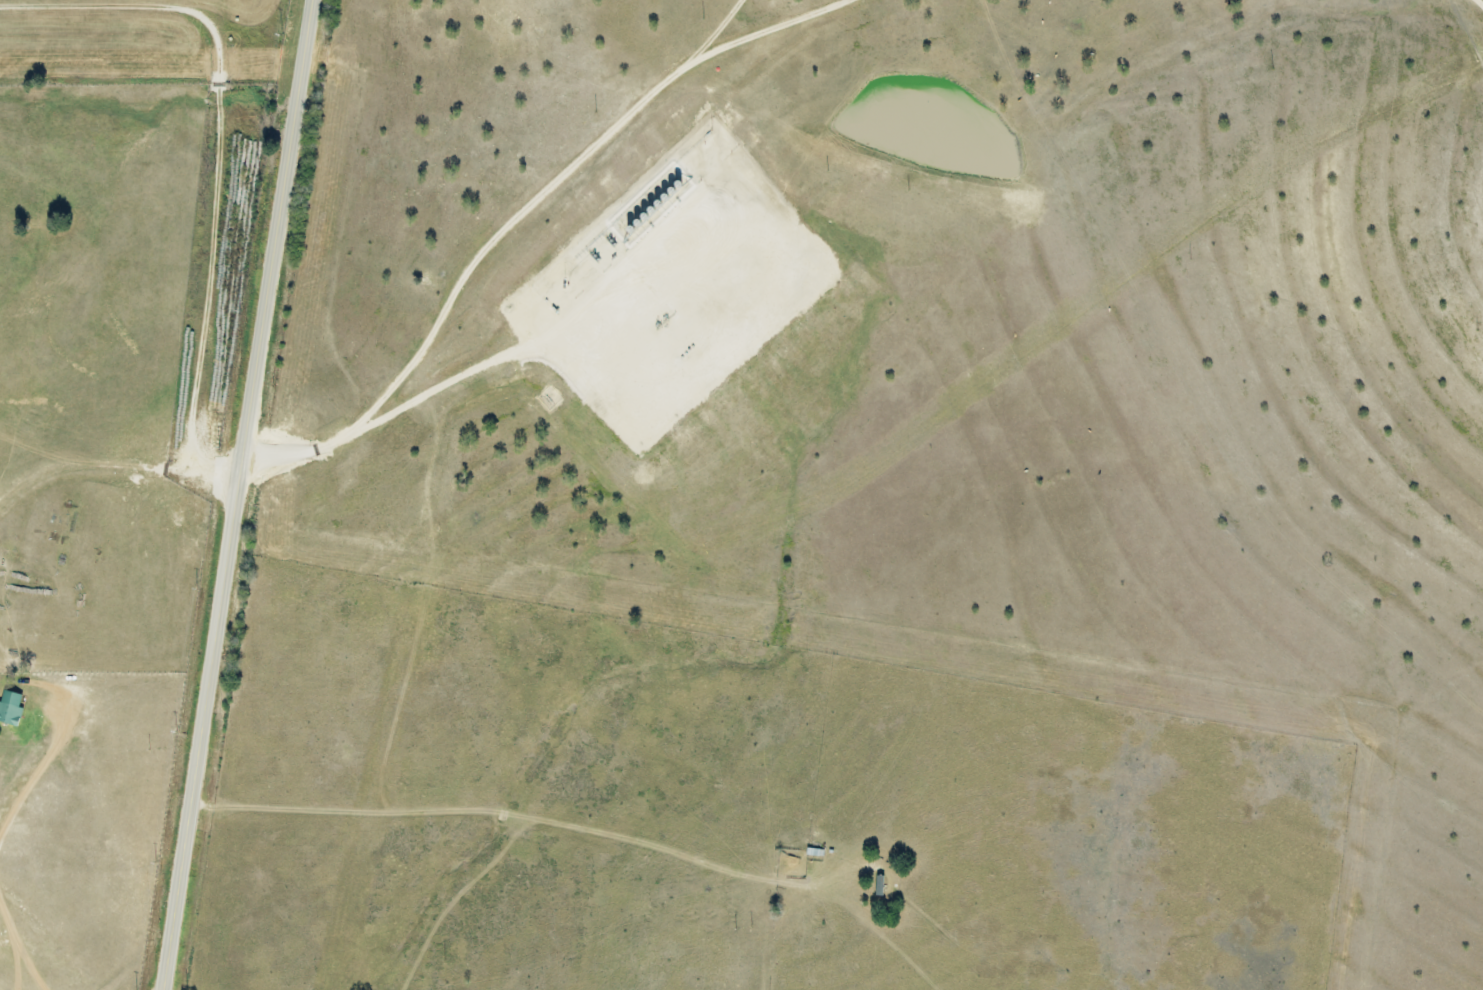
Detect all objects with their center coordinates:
road: (1478, 4)
road: (203, 155)
road: (567, 170)
petroleum well: (662, 321)
road: (261, 354)
road: (385, 414)
building: (11, 708)
road: (181, 848)
building: (879, 885)

